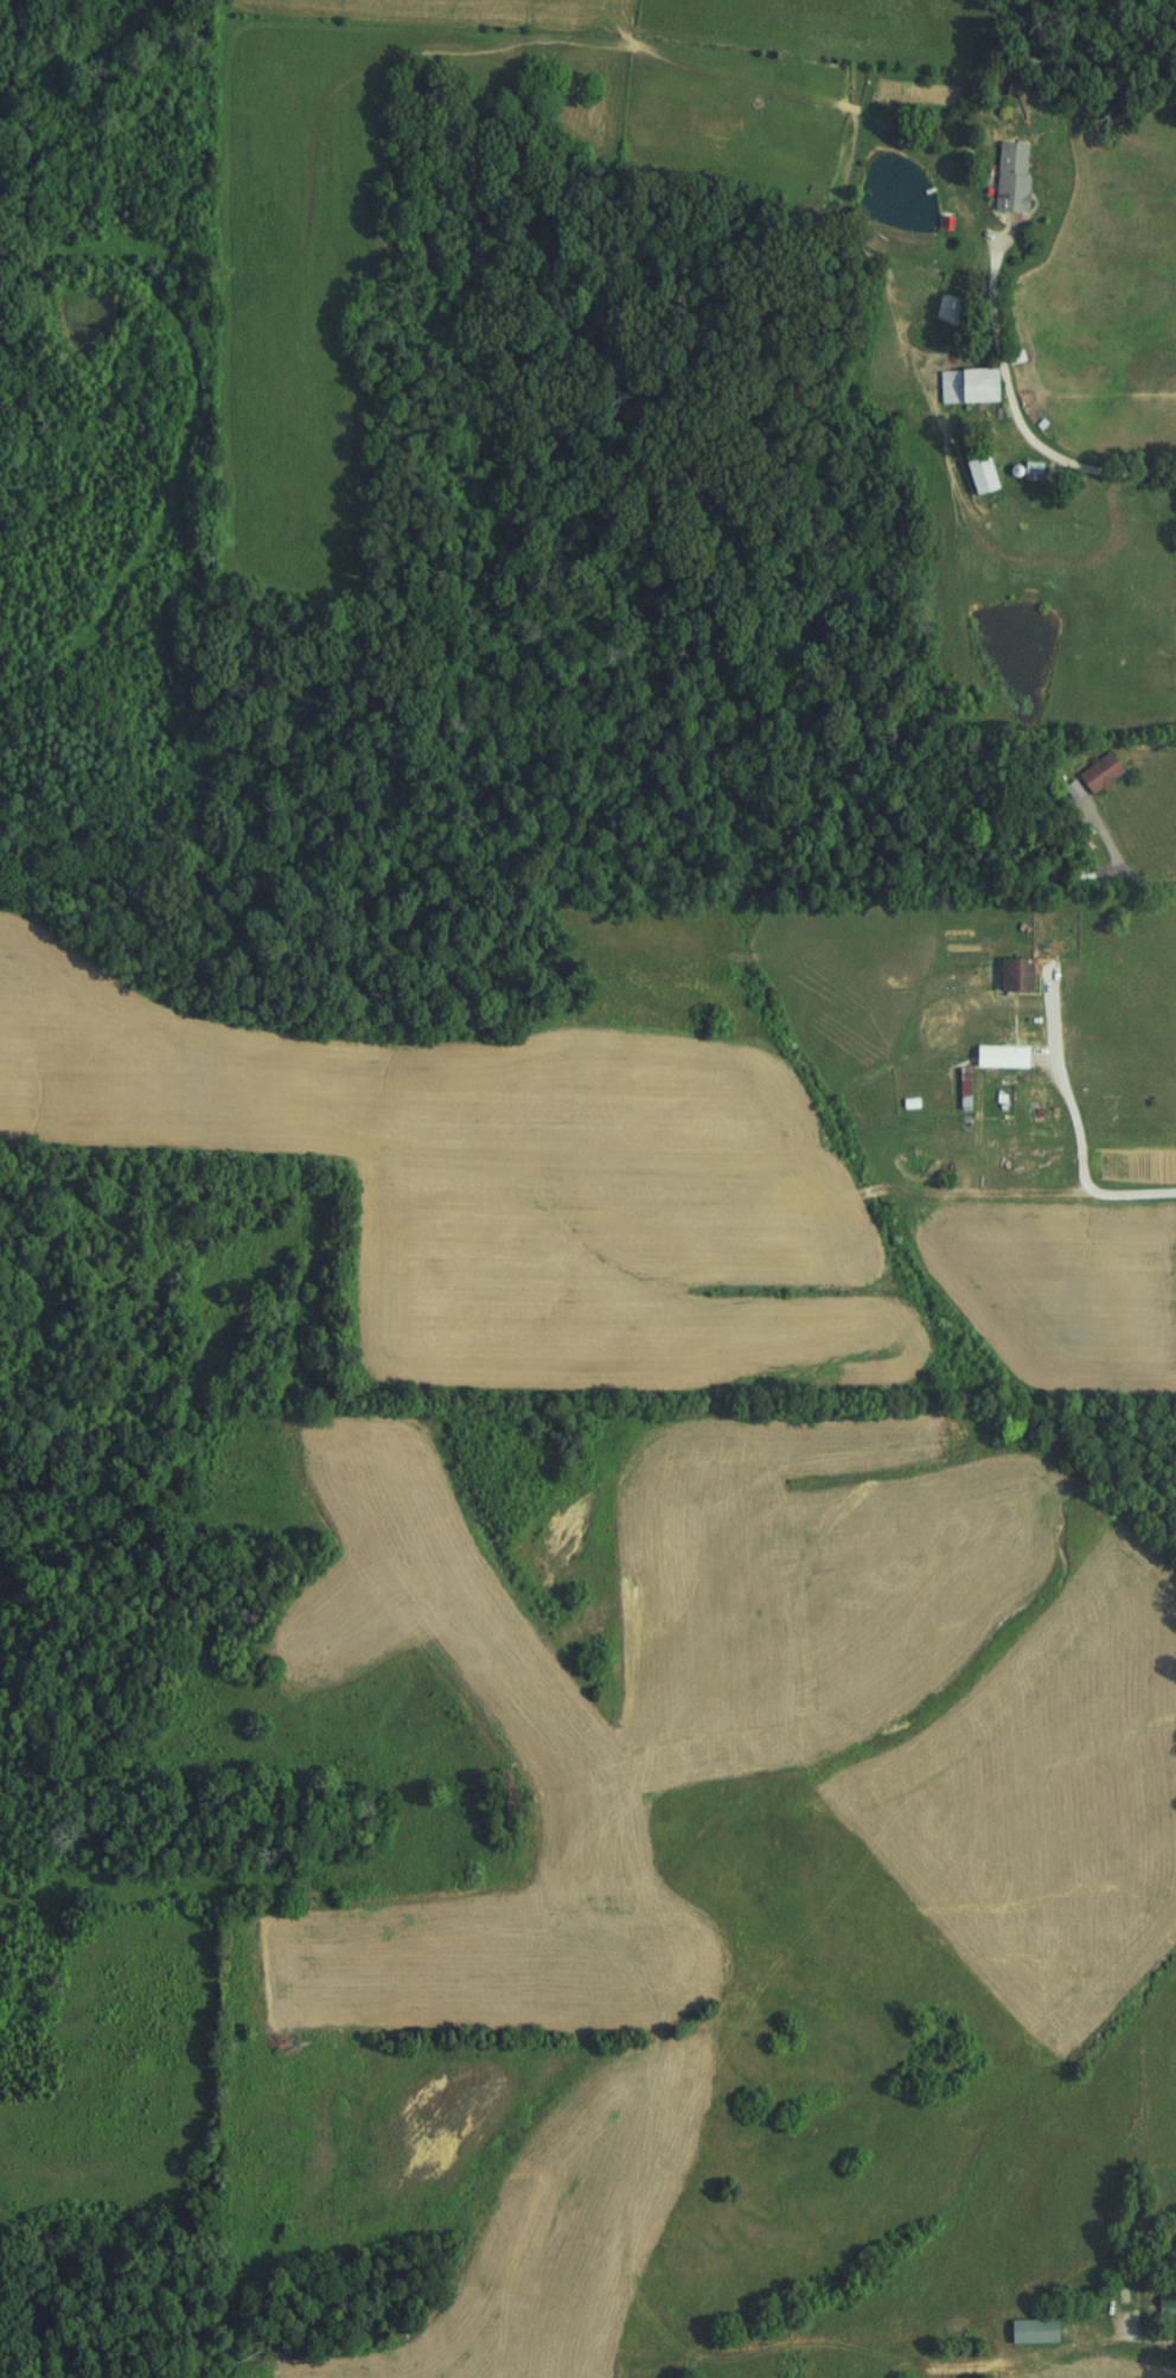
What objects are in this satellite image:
building: (1005, 178)
road: (990, 287)
building: (960, 384)
road: (1054, 453)
building: (1086, 777)
road: (1120, 866)
building: (1008, 974)
building: (1008, 1056)
building: (958, 1086)
building: (1163, 2301)
building: (1025, 2333)
road: (1131, 2334)

